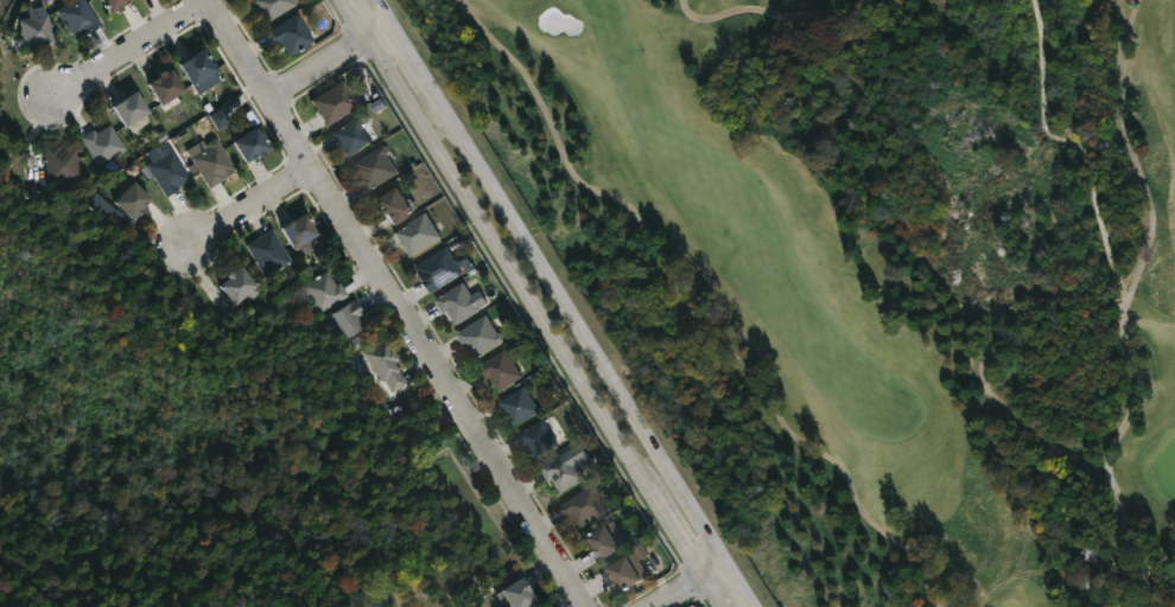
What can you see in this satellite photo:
building: (107, 5)
building: (268, 7)
road: (775, 13)
building: (75, 17)
building: (32, 27)
building: (290, 33)
road: (127, 49)
road: (330, 62)
building: (195, 70)
building: (160, 85)
building: (332, 103)
building: (125, 108)
building: (349, 136)
building: (101, 142)
building: (243, 145)
road: (1069, 147)
building: (208, 161)
building: (59, 166)
building: (374, 168)
building: (165, 172)
building: (126, 200)
building: (390, 205)
road: (250, 207)
building: (294, 230)
building: (415, 235)
building: (268, 254)
park: (887, 256)
building: (437, 270)
building: (237, 287)
building: (324, 290)
road: (532, 302)
road: (394, 303)
building: (456, 303)
road: (563, 303)
road: (1123, 314)
road: (697, 318)
building: (344, 319)
building: (477, 338)
building: (383, 364)
building: (500, 372)
building: (517, 405)
building: (536, 437)
building: (565, 467)
park: (1167, 467)
building: (584, 504)
building: (598, 541)
building: (625, 568)
road: (712, 574)
building: (513, 593)
road: (680, 594)
road: (1157, 594)

